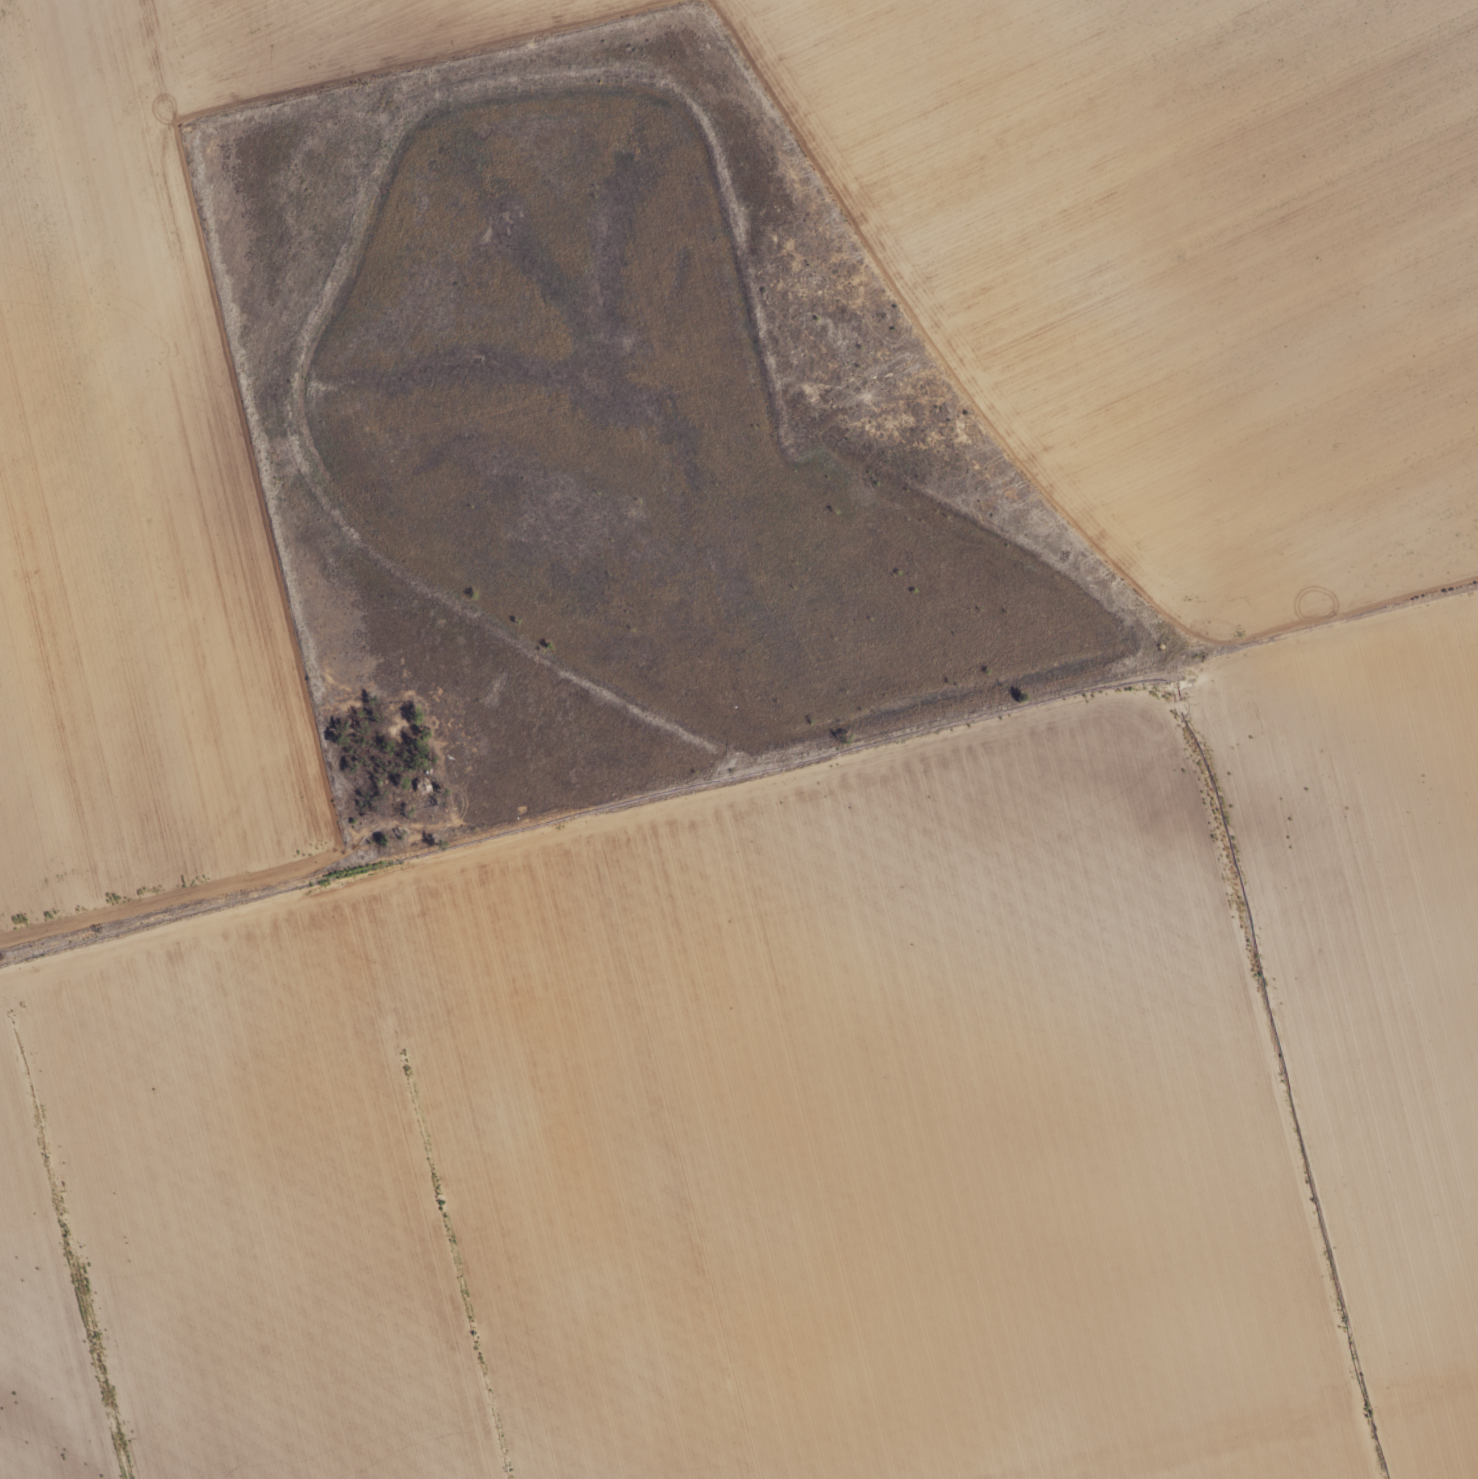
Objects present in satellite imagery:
building: (420, 783)

